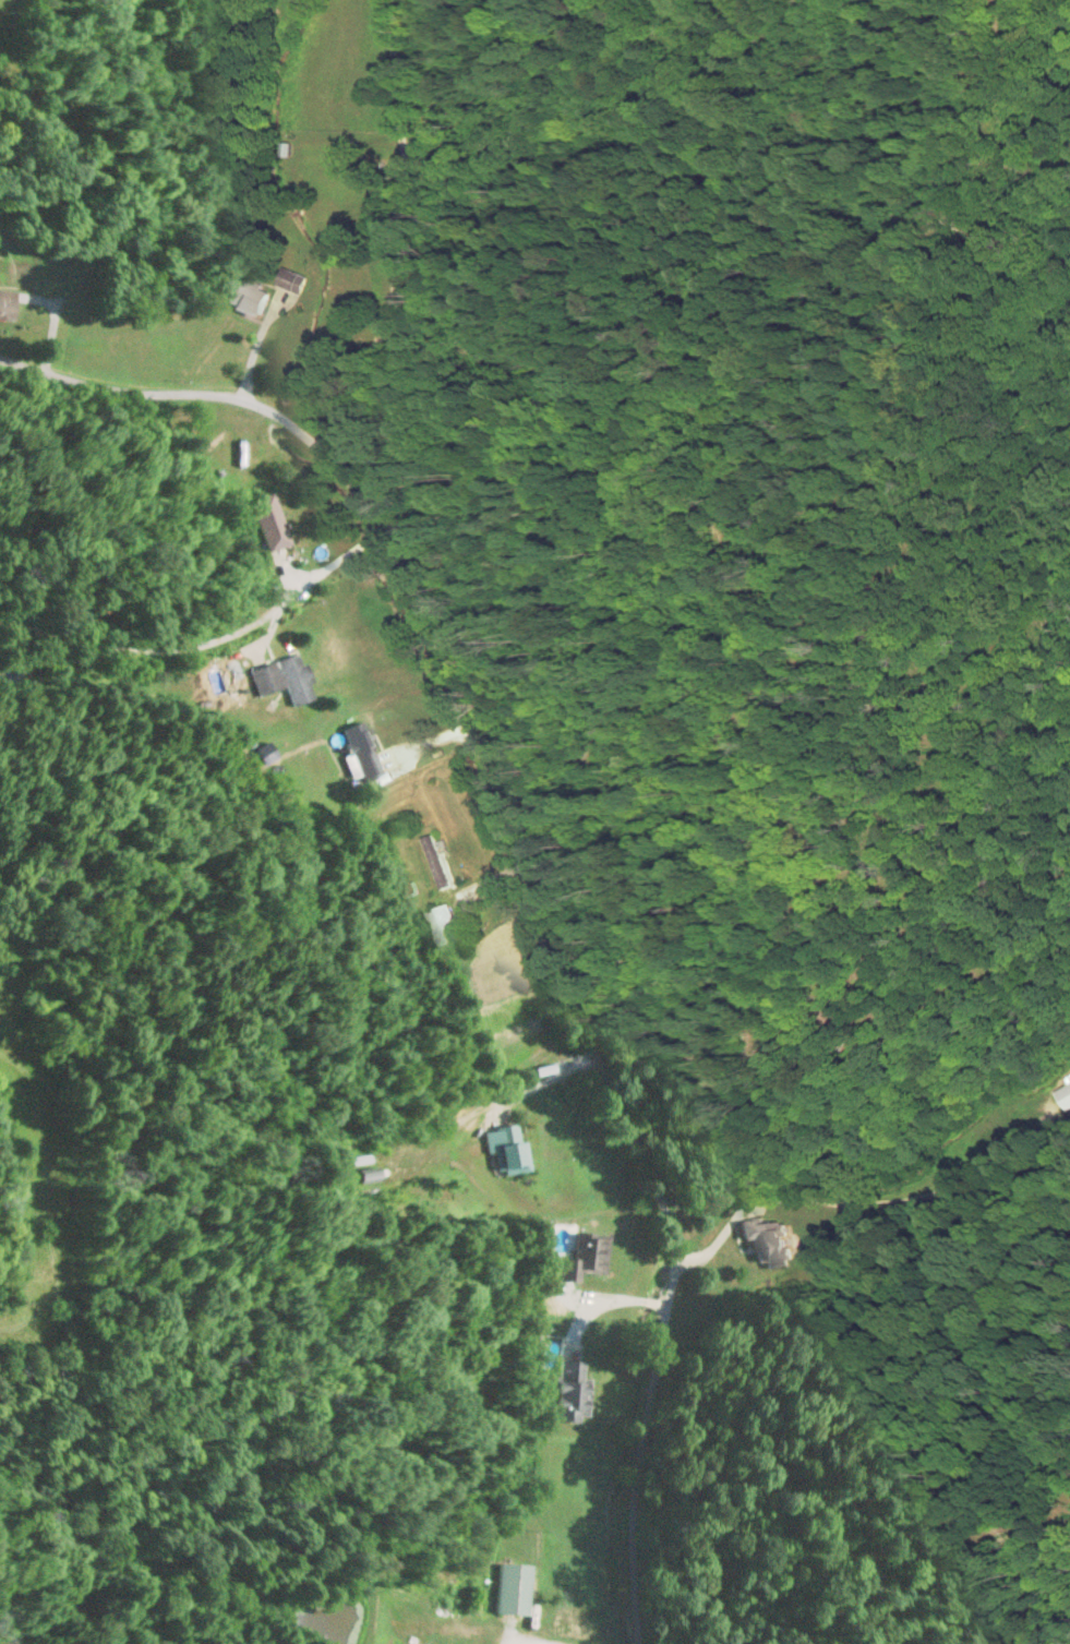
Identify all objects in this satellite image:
road: (406, 252)
building: (292, 280)
building: (249, 298)
building: (8, 304)
building: (272, 520)
road: (257, 665)
building: (266, 680)
building: (294, 680)
building: (364, 752)
building: (432, 864)
road: (528, 864)
building: (445, 925)
building: (1069, 1078)
building: (1066, 1096)
building: (509, 1149)
building: (371, 1177)
building: (769, 1243)
building: (586, 1257)
building: (569, 1393)
building: (513, 1588)

